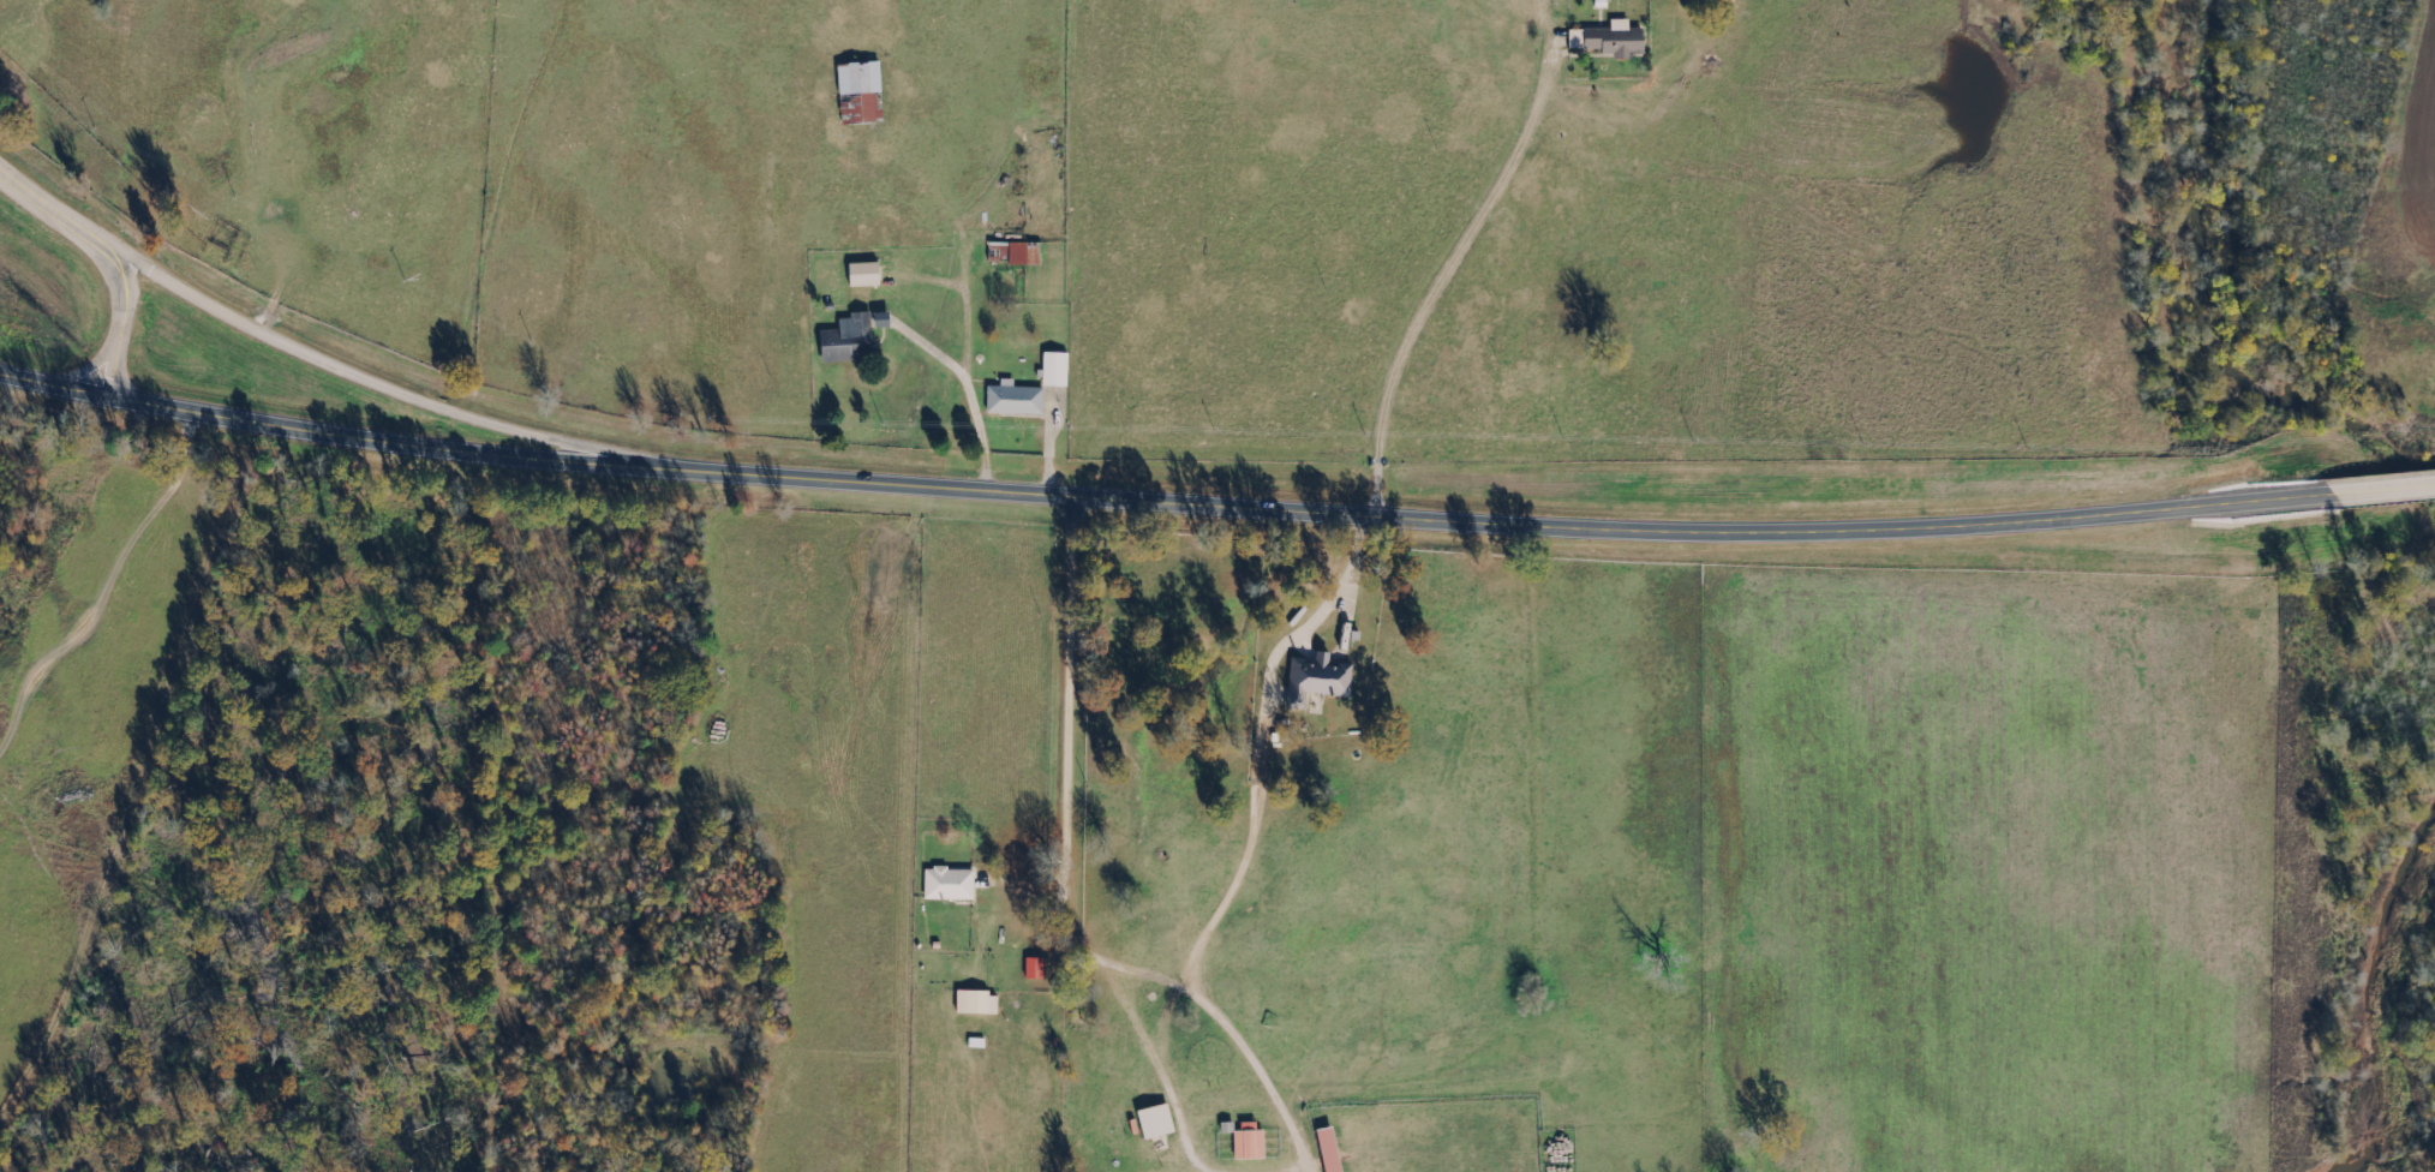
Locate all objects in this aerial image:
building: (1611, 38)
road: (118, 251)
building: (1018, 251)
building: (868, 273)
building: (854, 337)
building: (1059, 367)
road: (53, 381)
road: (389, 382)
building: (1018, 397)
road: (1268, 507)
building: (1320, 677)
road: (1077, 722)
building: (952, 883)
building: (981, 1041)
building: (1159, 1120)
building: (1254, 1140)
building: (1334, 1149)

